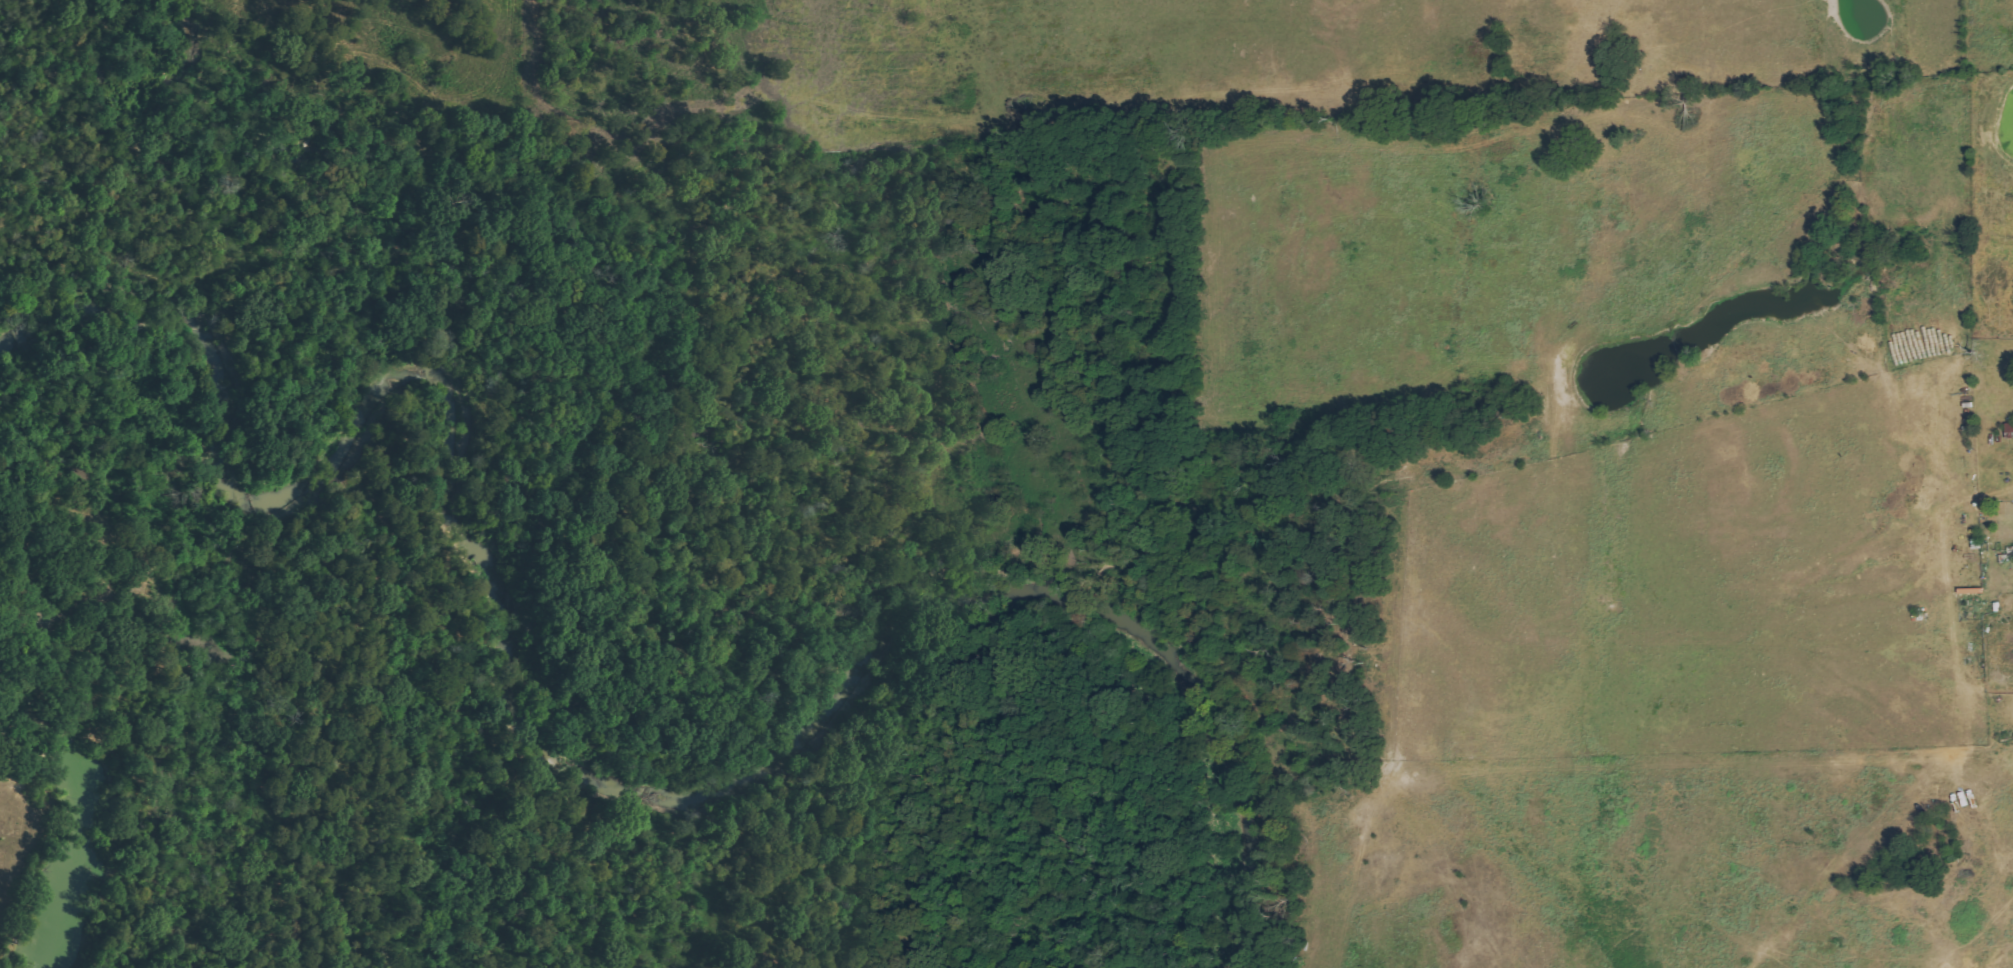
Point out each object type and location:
river: (547, 737)

